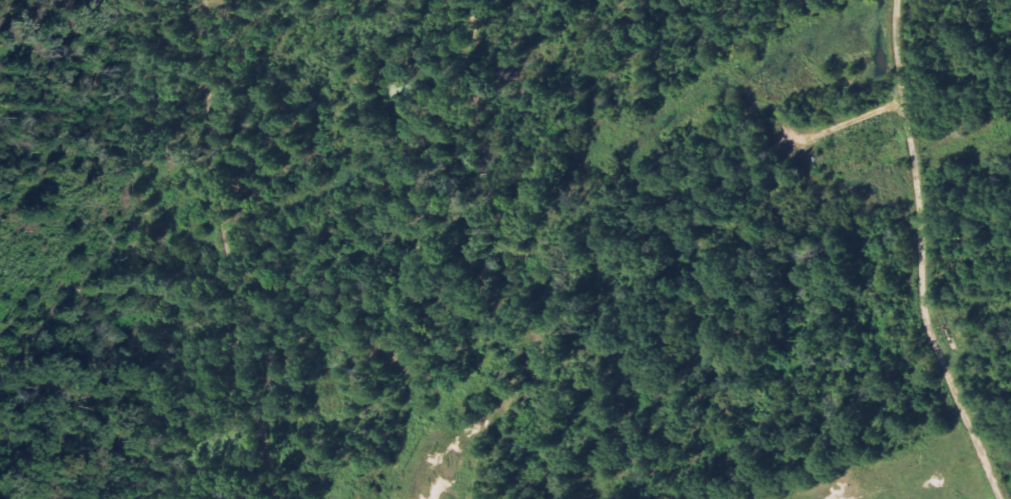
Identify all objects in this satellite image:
road: (918, 256)

